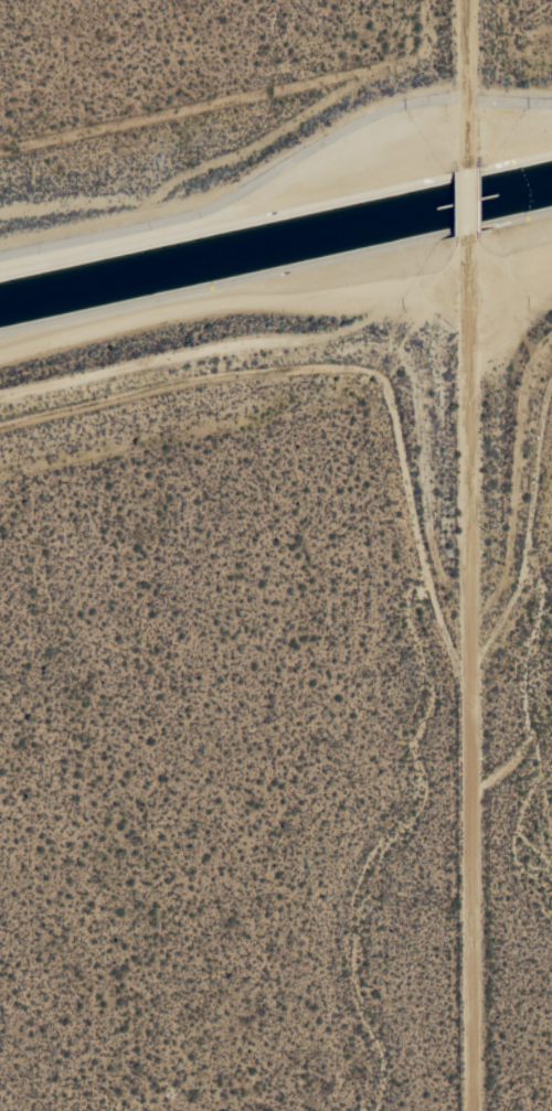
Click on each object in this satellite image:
road: (470, 78)
road: (470, 194)
road: (469, 672)

